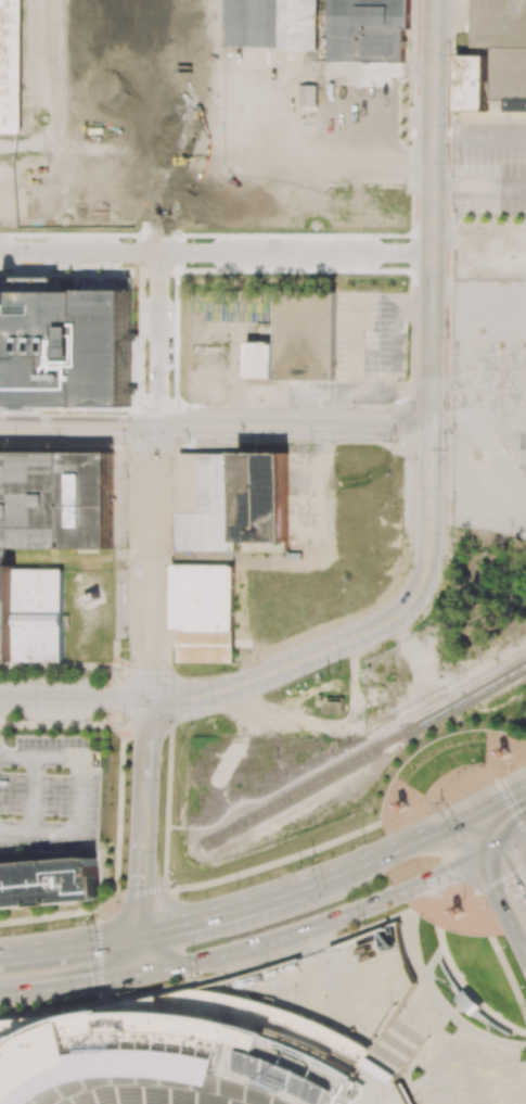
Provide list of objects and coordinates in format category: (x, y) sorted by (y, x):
building: (270, 24)
building: (367, 29)
building: (503, 47)
road: (53, 60)
building: (12, 67)
road: (272, 74)
building: (470, 83)
building: (308, 94)
road: (55, 139)
road: (300, 161)
road: (107, 189)
road: (156, 239)
road: (431, 304)
building: (296, 340)
building: (65, 347)
road: (149, 361)
road: (215, 426)
street lamp: (14, 445)
building: (55, 499)
building: (232, 502)
road: (149, 562)
building: (202, 611)
building: (30, 614)
road: (283, 664)
road: (74, 698)
building: (334, 707)
road: (145, 739)
road: (40, 756)
railway: (363, 756)
traffic signals: (506, 788)
road: (34, 791)
road: (496, 794)
road: (510, 805)
road: (144, 807)
road: (483, 826)
road: (75, 829)
road: (471, 833)
road: (513, 835)
road: (415, 836)
road: (488, 849)
road: (446, 851)
road: (514, 864)
traffic signals: (448, 868)
road: (495, 873)
traffic signals: (521, 876)
road: (141, 880)
building: (47, 883)
traffic signals: (141, 883)
road: (256, 898)
road: (438, 899)
road: (501, 904)
road: (476, 911)
traffic signals: (181, 919)
road: (313, 923)
street lamp: (34, 930)
road: (120, 934)
road: (49, 943)
road: (144, 950)
road: (509, 977)
road: (210, 978)
traffic signals: (91, 981)
road: (73, 984)
street lamp: (16, 1006)
building: (190, 1056)
stadium: (190, 1056)
road: (467, 1058)
parking lot: (470, 1073)
road: (475, 1081)

